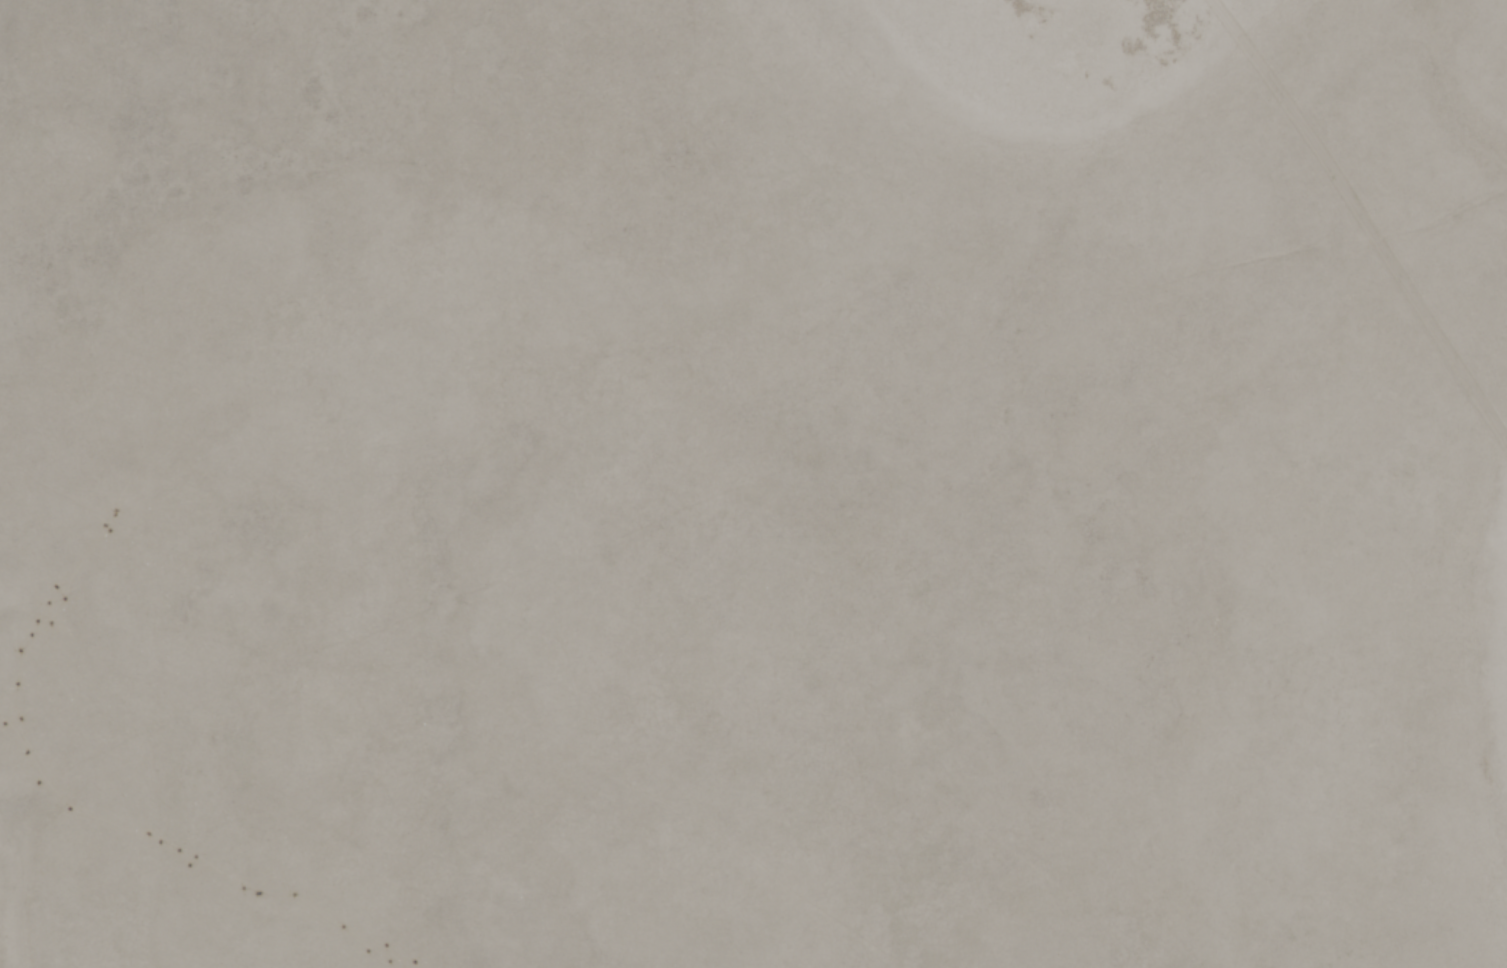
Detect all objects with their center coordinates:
road: (1356, 230)

